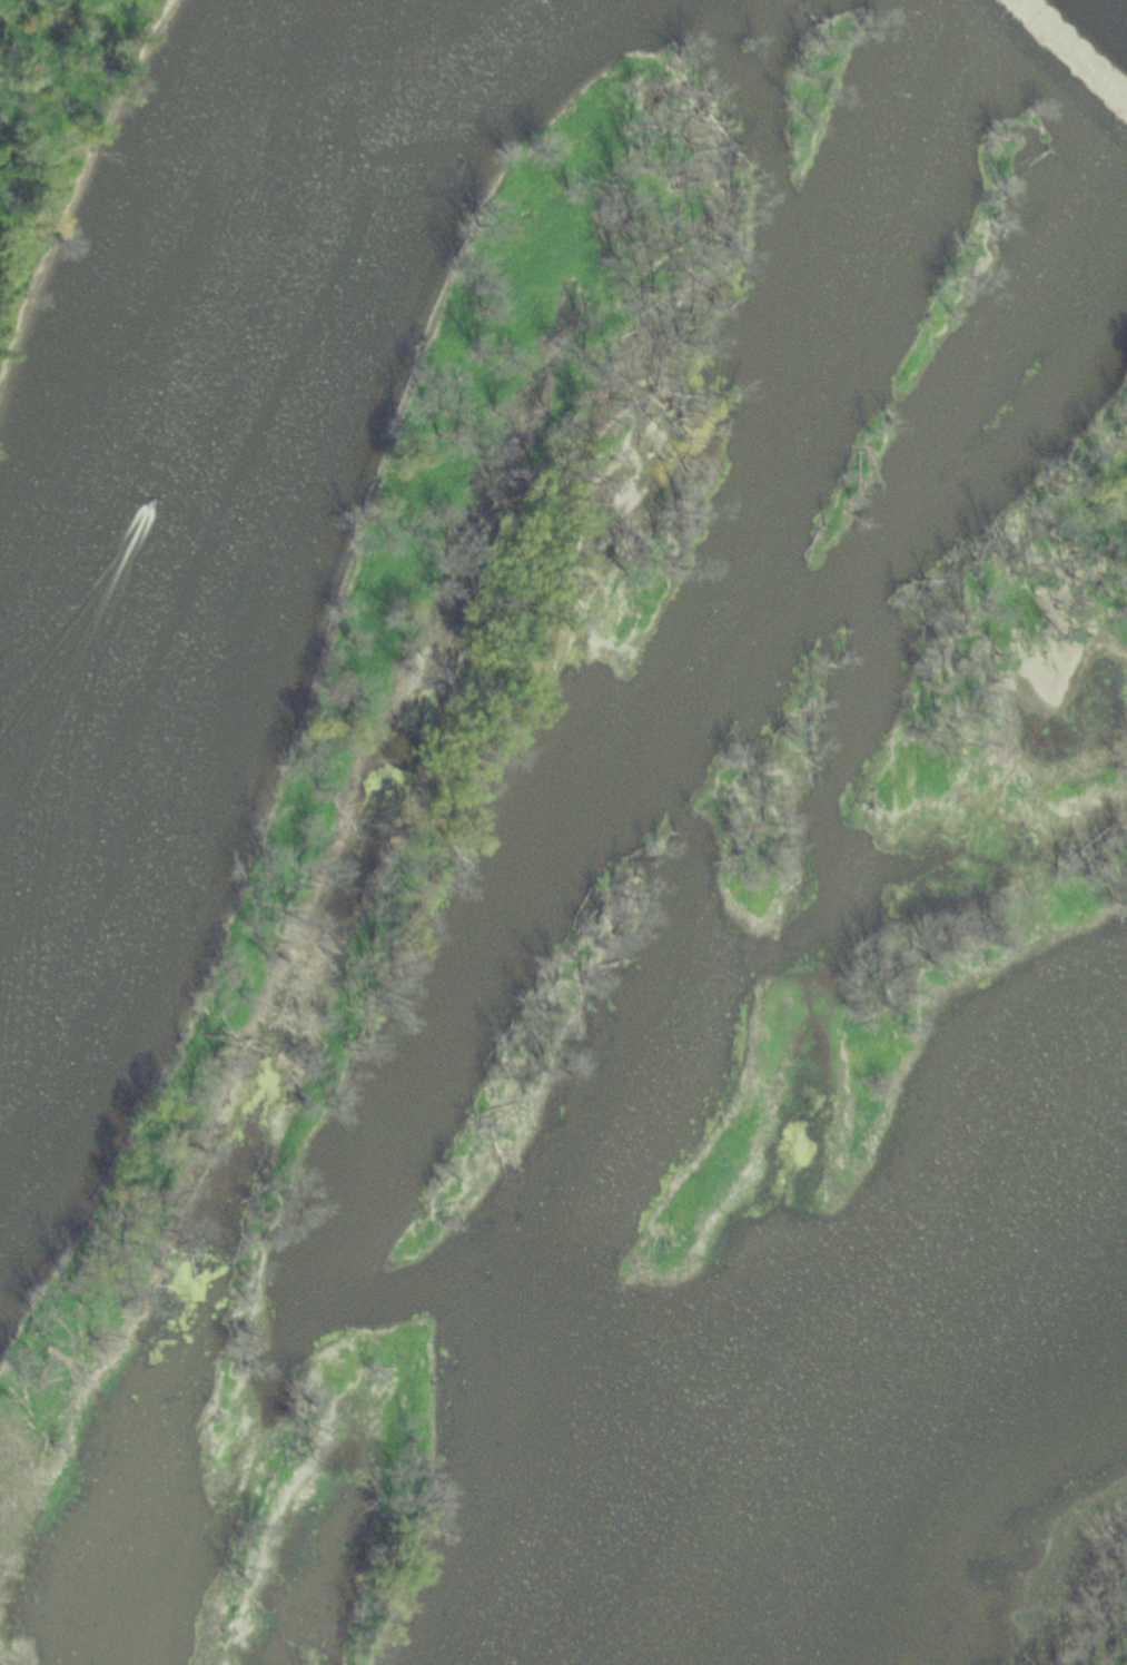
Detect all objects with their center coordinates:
dam: (1071, 52)
river: (189, 482)

